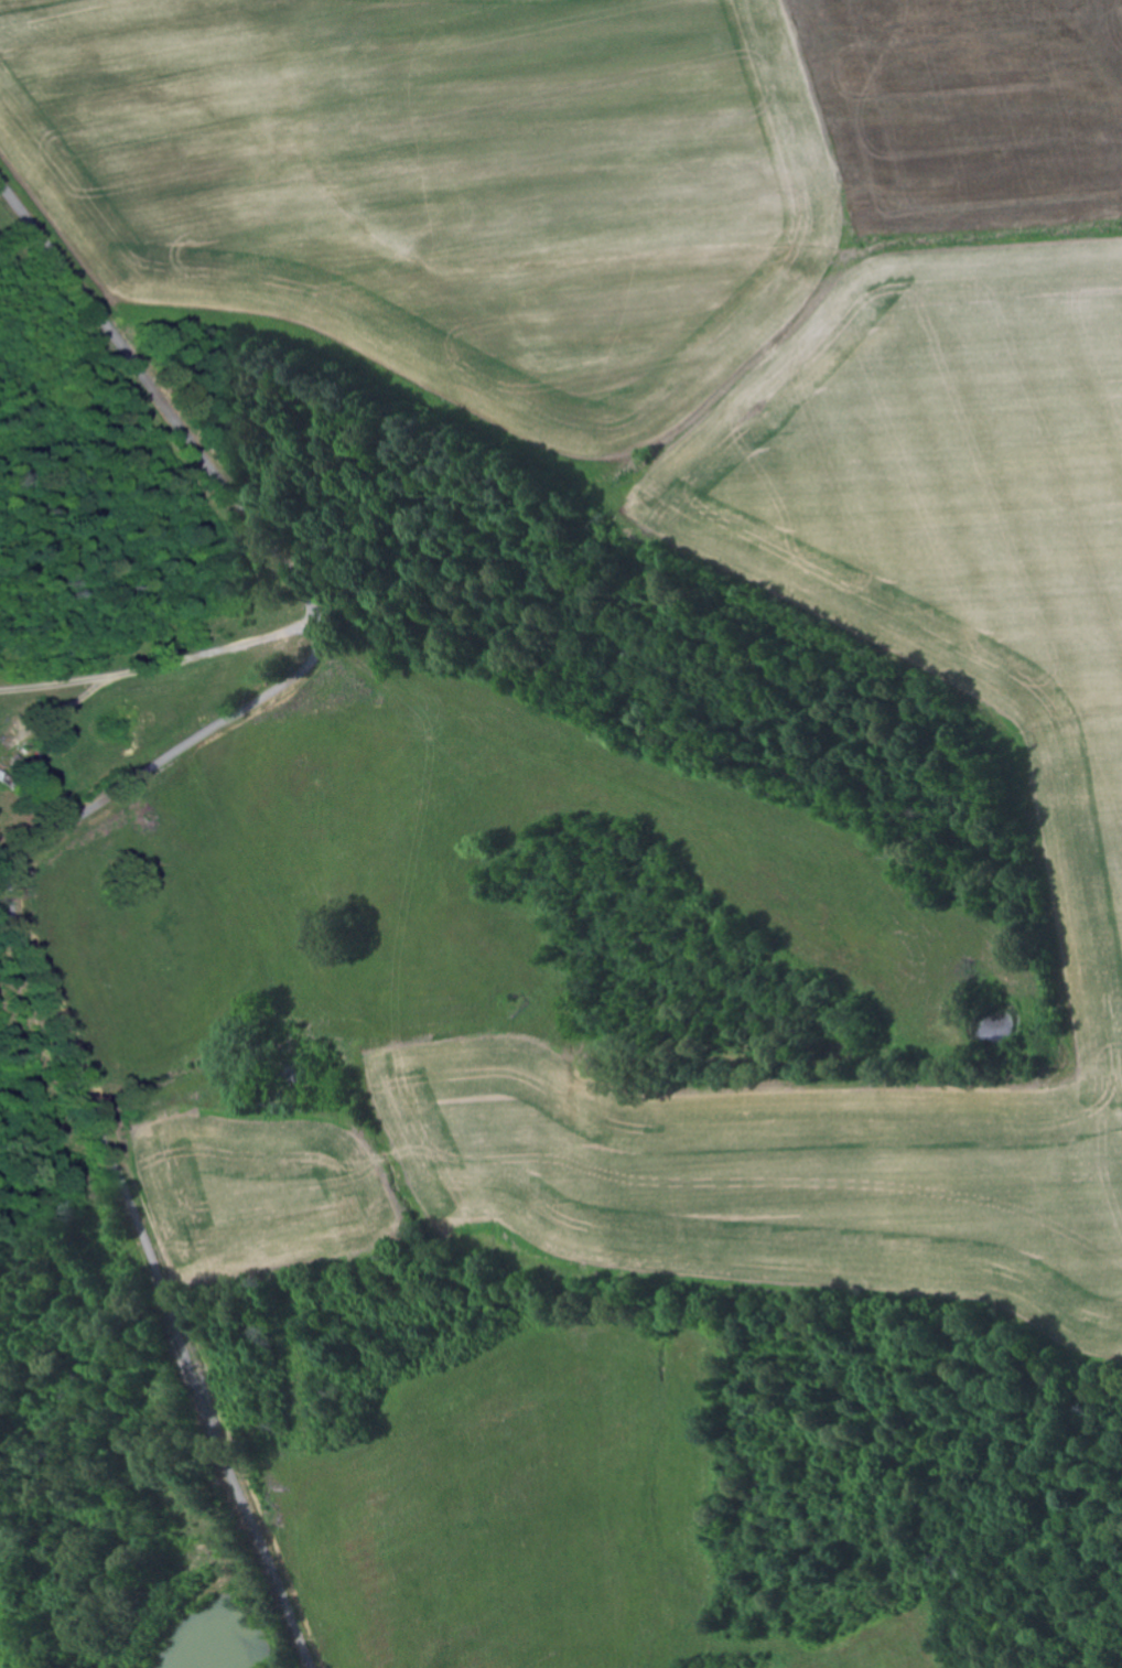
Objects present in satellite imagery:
road: (160, 664)
road: (52, 839)

